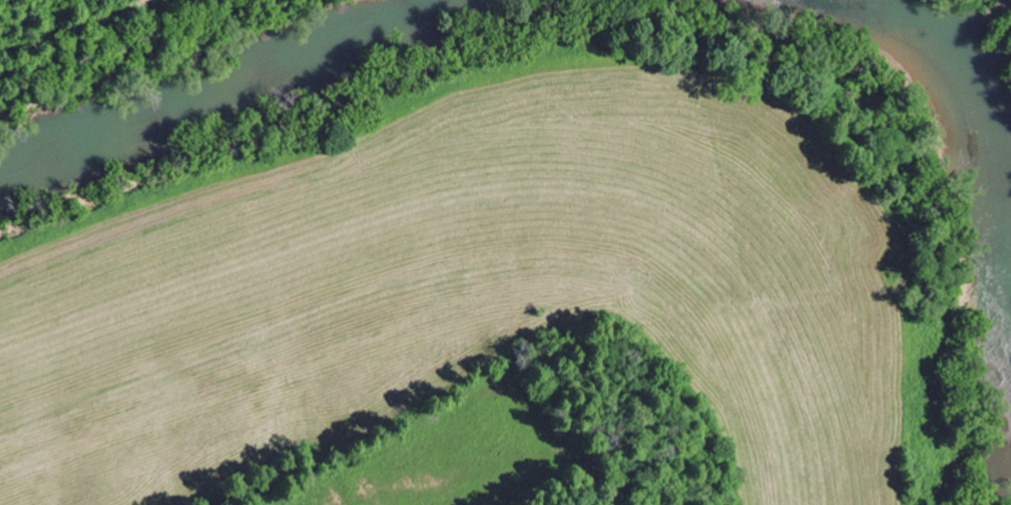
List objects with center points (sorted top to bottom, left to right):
river: (222, 87)
river: (968, 89)

